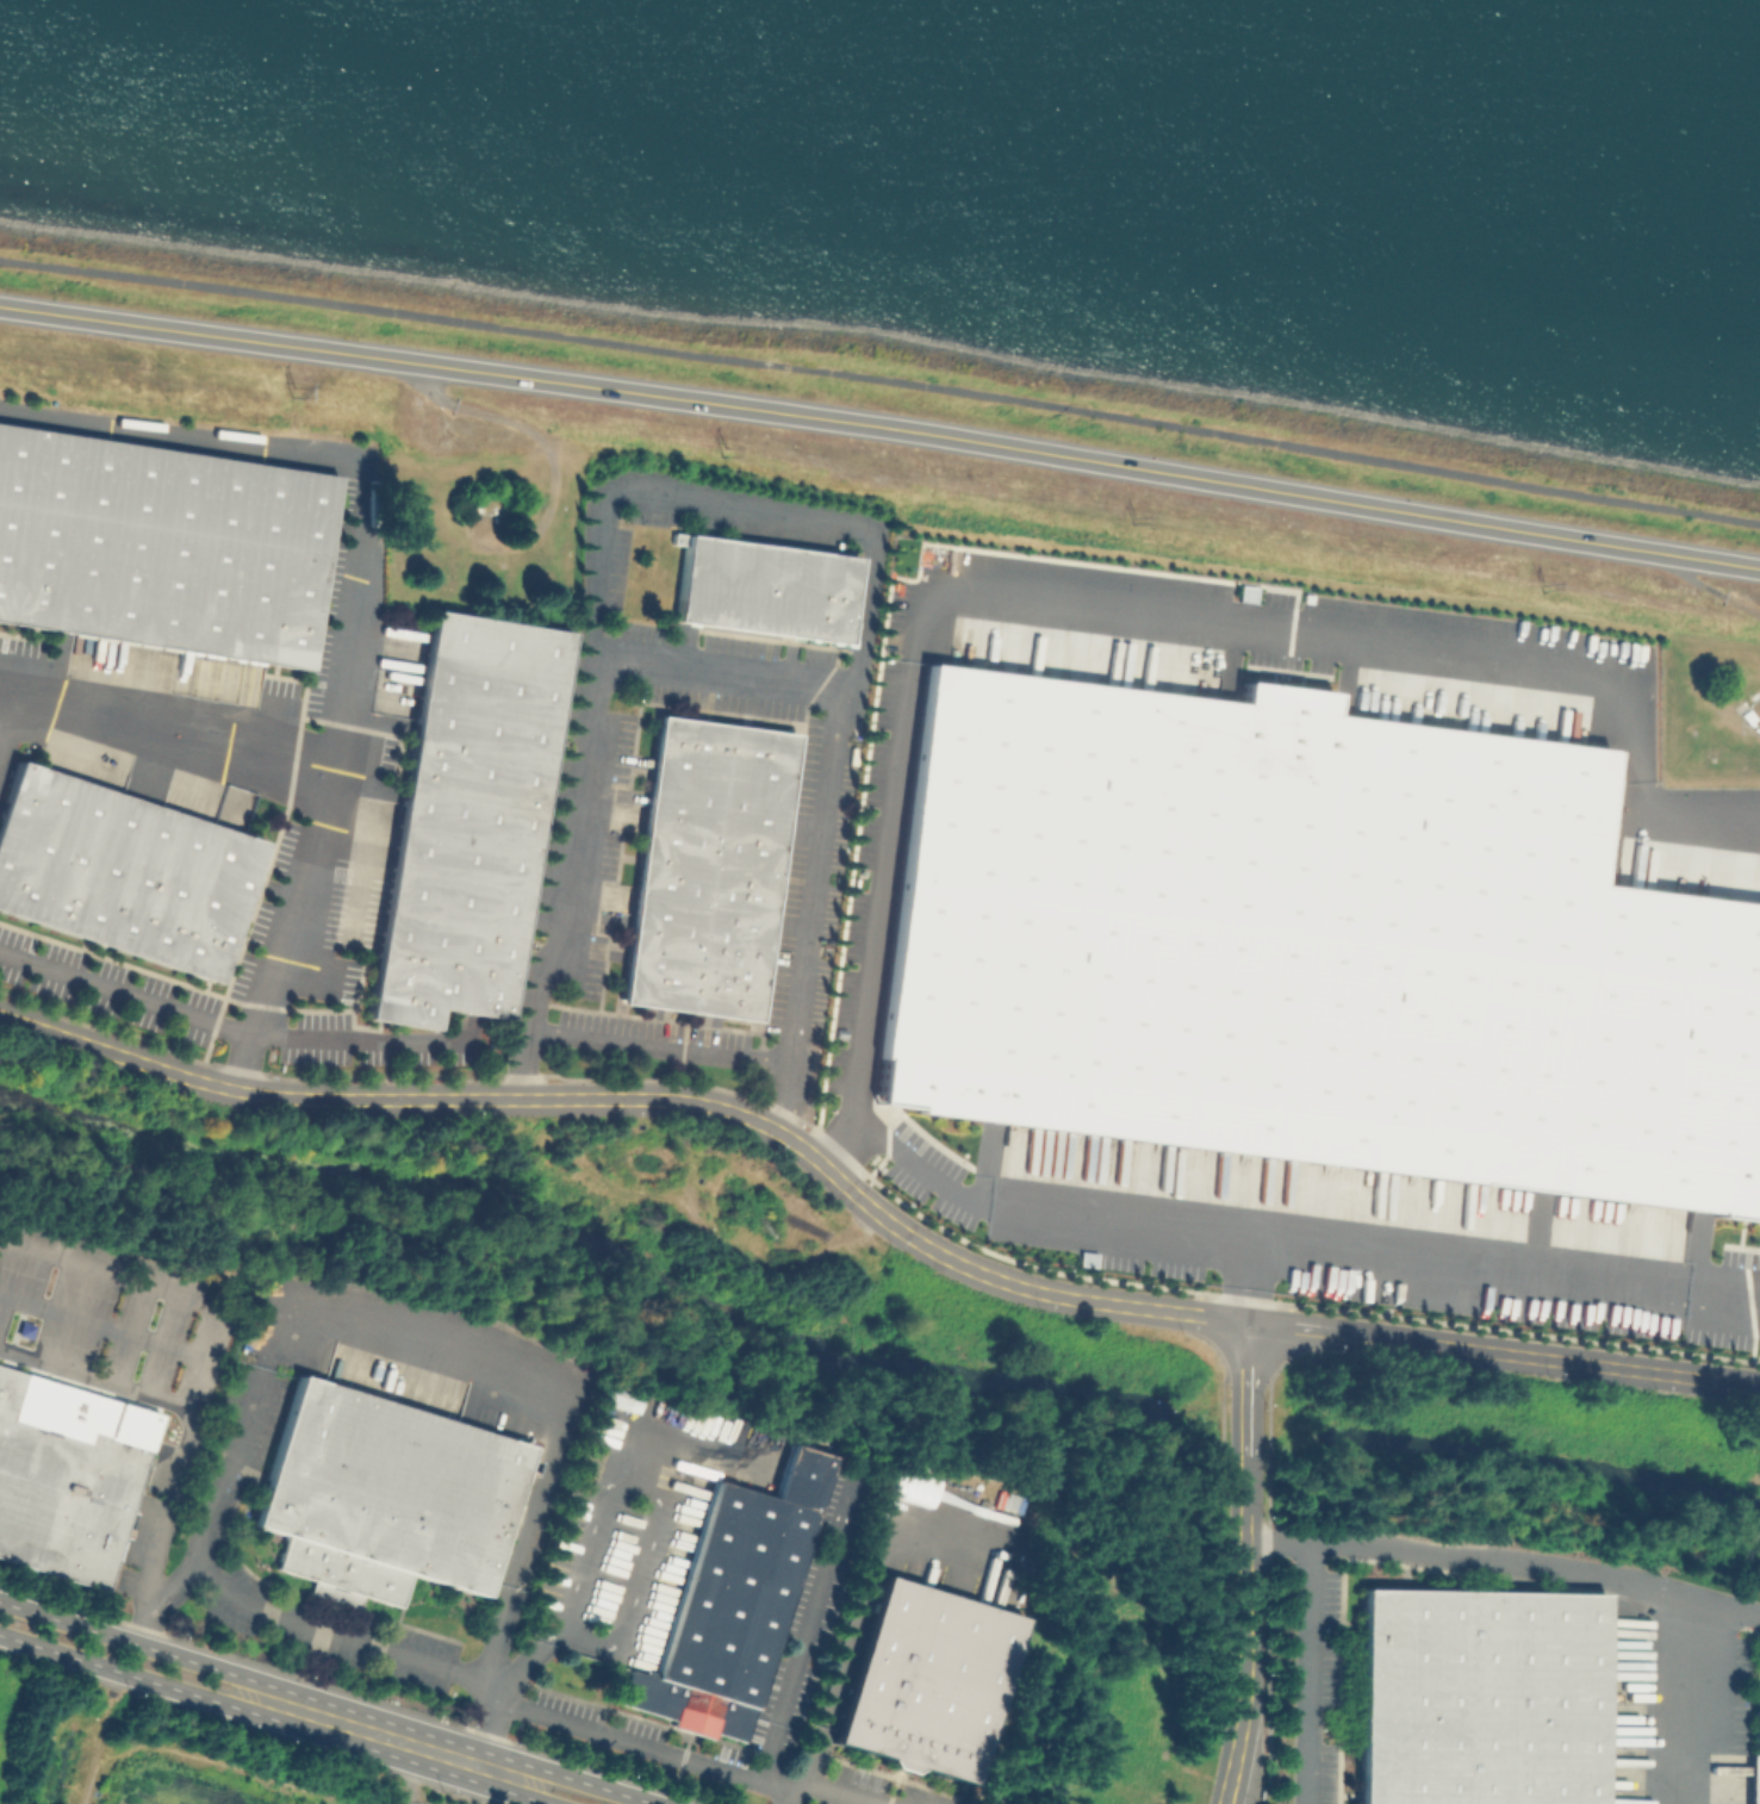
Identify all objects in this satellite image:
road: (881, 379)
road: (881, 427)
road: (334, 456)
road: (741, 508)
building: (158, 543)
building: (764, 585)
building: (1246, 591)
road: (1292, 636)
road: (727, 672)
road: (10, 728)
road: (323, 764)
road: (1685, 811)
building: (464, 816)
building: (708, 865)
building: (119, 871)
road: (881, 896)
building: (1314, 945)
road: (232, 1025)
road: (666, 1049)
road: (645, 1099)
road: (903, 1153)
road: (1339, 1255)
road: (1245, 1281)
road: (1725, 1308)
road: (105, 1324)
road: (1305, 1327)
road: (216, 1336)
road: (1399, 1339)
road: (1597, 1364)
road: (97, 1382)
road: (551, 1382)
road: (1245, 1391)
road: (231, 1464)
building: (390, 1485)
road: (1245, 1487)
building: (62, 1493)
road: (1245, 1529)
road: (1463, 1555)
building: (342, 1570)
road: (865, 1593)
building: (747, 1605)
road: (807, 1637)
road: (129, 1642)
road: (1678, 1657)
road: (1245, 1663)
road: (528, 1671)
road: (1305, 1672)
road: (124, 1673)
road: (1724, 1678)
building: (927, 1680)
road: (464, 1682)
building: (1480, 1697)
road: (495, 1731)
road: (383, 1736)
road: (98, 1743)
building: (1756, 1761)
road: (406, 1774)
road: (586, 1783)
road: (531, 1791)
road: (1227, 1793)
road: (794, 1798)

